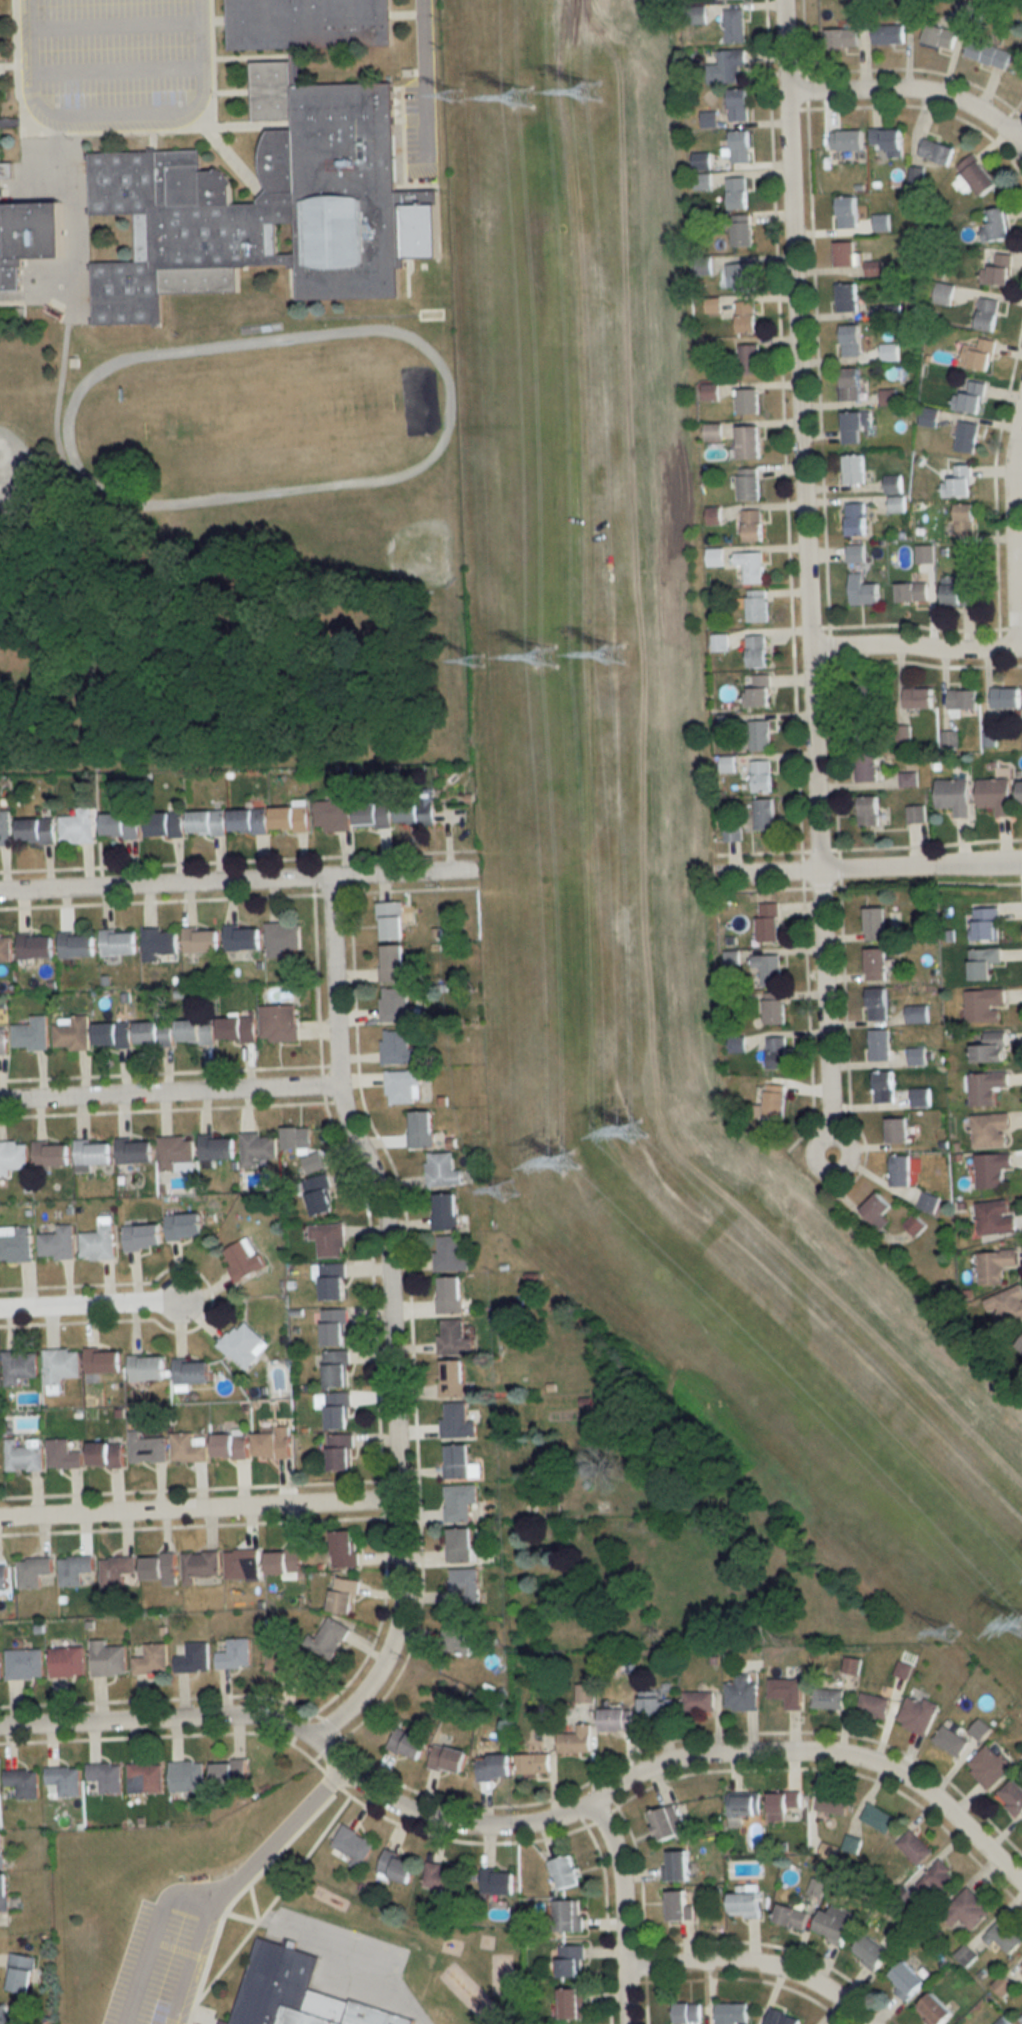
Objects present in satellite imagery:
building: (964, 9)
building: (308, 23)
road: (112, 24)
building: (734, 25)
building: (888, 33)
building: (939, 35)
building: (842, 37)
building: (988, 53)
building: (726, 66)
road: (114, 71)
road: (423, 83)
road: (913, 92)
power tower: (594, 95)
power tower: (524, 99)
power tower: (460, 100)
building: (738, 104)
road: (113, 110)
road: (1018, 136)
building: (886, 138)
building: (847, 139)
building: (740, 146)
building: (936, 150)
building: (977, 174)
building: (737, 192)
building: (269, 205)
building: (847, 211)
building: (880, 221)
building: (997, 225)
building: (741, 229)
building: (28, 237)
building: (845, 253)
building: (874, 267)
building: (998, 270)
building: (742, 276)
building: (944, 293)
building: (847, 296)
building: (888, 311)
building: (987, 313)
building: (746, 316)
building: (851, 339)
building: (980, 353)
building: (749, 358)
building: (850, 383)
building: (970, 397)
building: (749, 400)
park: (270, 414)
building: (928, 416)
building: (855, 424)
building: (966, 436)
building: (751, 441)
building: (854, 468)
building: (958, 482)
building: (749, 484)
building: (893, 484)
road: (75, 496)
building: (896, 504)
building: (713, 516)
building: (856, 519)
building: (964, 519)
building: (753, 525)
road: (1010, 528)
building: (856, 553)
building: (924, 553)
building: (751, 566)
road: (803, 575)
building: (912, 591)
building: (957, 592)
building: (864, 593)
building: (758, 605)
building: (720, 642)
road: (914, 648)
building: (757, 650)
power tower: (618, 651)
power tower: (548, 657)
power tower: (483, 660)
building: (759, 691)
building: (869, 694)
building: (918, 697)
building: (1006, 697)
building: (962, 698)
building: (760, 735)
building: (865, 737)
building: (866, 766)
building: (762, 776)
building: (908, 778)
building: (1021, 791)
building: (954, 795)
building: (996, 795)
building: (868, 810)
building: (333, 812)
building: (415, 812)
building: (373, 814)
building: (765, 814)
building: (916, 814)
building: (290, 819)
building: (249, 821)
building: (207, 823)
building: (165, 824)
building: (120, 825)
building: (77, 826)
building: (4, 827)
building: (36, 830)
building: (733, 831)
road: (867, 870)
road: (236, 880)
building: (391, 921)
building: (769, 922)
building: (875, 923)
building: (986, 923)
building: (282, 937)
building: (243, 938)
building: (201, 940)
building: (119, 942)
building: (159, 943)
building: (76, 944)
building: (35, 946)
building: (5, 948)
building: (984, 962)
building: (392, 963)
building: (876, 963)
building: (768, 968)
building: (877, 1003)
building: (396, 1005)
building: (984, 1005)
building: (775, 1008)
building: (917, 1013)
building: (278, 1023)
building: (237, 1030)
building: (195, 1031)
building: (154, 1033)
building: (71, 1034)
building: (31, 1035)
building: (113, 1035)
building: (3, 1041)
building: (879, 1045)
building: (989, 1047)
building: (397, 1048)
building: (777, 1052)
building: (917, 1056)
building: (402, 1086)
building: (884, 1086)
building: (986, 1087)
road: (168, 1092)
building: (921, 1096)
building: (775, 1100)
building: (421, 1129)
building: (897, 1129)
building: (990, 1130)
power tower: (638, 1138)
building: (217, 1147)
building: (257, 1148)
building: (135, 1150)
building: (301, 1151)
building: (92, 1152)
building: (176, 1152)
building: (51, 1154)
building: (12, 1156)
power tower: (574, 1163)
building: (441, 1169)
building: (900, 1169)
building: (992, 1170)
power tower: (513, 1193)
building: (320, 1195)
building: (928, 1201)
building: (878, 1210)
building: (445, 1211)
building: (996, 1217)
building: (915, 1224)
building: (184, 1226)
building: (142, 1236)
building: (328, 1239)
building: (98, 1241)
building: (56, 1243)
building: (15, 1244)
building: (449, 1254)
building: (243, 1260)
building: (995, 1266)
building: (330, 1281)
building: (450, 1295)
building: (1006, 1304)
road: (88, 1307)
road: (389, 1318)
building: (333, 1328)
building: (452, 1337)
building: (243, 1345)
building: (1019, 1345)
building: (103, 1361)
building: (59, 1365)
building: (18, 1367)
building: (146, 1368)
building: (336, 1369)
building: (192, 1372)
building: (452, 1379)
building: (338, 1411)
building: (457, 1422)
building: (271, 1443)
building: (230, 1447)
building: (188, 1448)
building: (147, 1449)
building: (340, 1452)
building: (62, 1455)
building: (23, 1456)
building: (106, 1456)
building: (459, 1462)
building: (588, 1469)
building: (459, 1501)
road: (197, 1511)
building: (460, 1544)
building: (344, 1548)
building: (284, 1560)
building: (242, 1563)
building: (200, 1565)
building: (159, 1566)
building: (116, 1570)
building: (75, 1571)
building: (32, 1572)
building: (3, 1579)
building: (463, 1586)
building: (343, 1594)
power tower: (952, 1628)
building: (459, 1635)
building: (330, 1638)
building: (235, 1654)
building: (193, 1658)
building: (107, 1659)
building: (151, 1660)
building: (67, 1661)
building: (283, 1661)
building: (24, 1664)
building: (851, 1665)
building: (0, 1670)
building: (787, 1691)
building: (742, 1694)
building: (828, 1698)
building: (699, 1701)
building: (874, 1705)
building: (657, 1707)
building: (917, 1714)
building: (616, 1718)
building: (576, 1740)
building: (950, 1740)
building: (408, 1743)
building: (448, 1758)
building: (534, 1762)
building: (497, 1764)
building: (990, 1765)
building: (230, 1771)
building: (105, 1775)
building: (187, 1775)
building: (145, 1777)
building: (21, 1779)
building: (63, 1780)
building: (1012, 1796)
building: (832, 1802)
building: (744, 1803)
building: (783, 1803)
building: (878, 1818)
building: (668, 1821)
road: (526, 1822)
building: (354, 1845)
building: (915, 1847)
building: (1, 1850)
building: (676, 1865)
building: (398, 1866)
building: (565, 1872)
building: (444, 1876)
building: (939, 1879)
road: (233, 1881)
building: (498, 1881)
building: (3, 1892)
building: (746, 1902)
building: (679, 1906)
road: (622, 1910)
building: (966, 1910)
building: (569, 1915)
building: (791, 1916)
building: (836, 1923)
road: (149, 1935)
building: (1004, 1936)
building: (871, 1952)
building: (571, 1960)
road: (756, 1964)
building: (1021, 1964)
building: (20, 1972)
building: (906, 1980)
building: (294, 1992)
building: (573, 2003)
building: (934, 2010)
building: (687, 2012)
building: (731, 2013)
building: (5, 2014)
building: (781, 2017)

